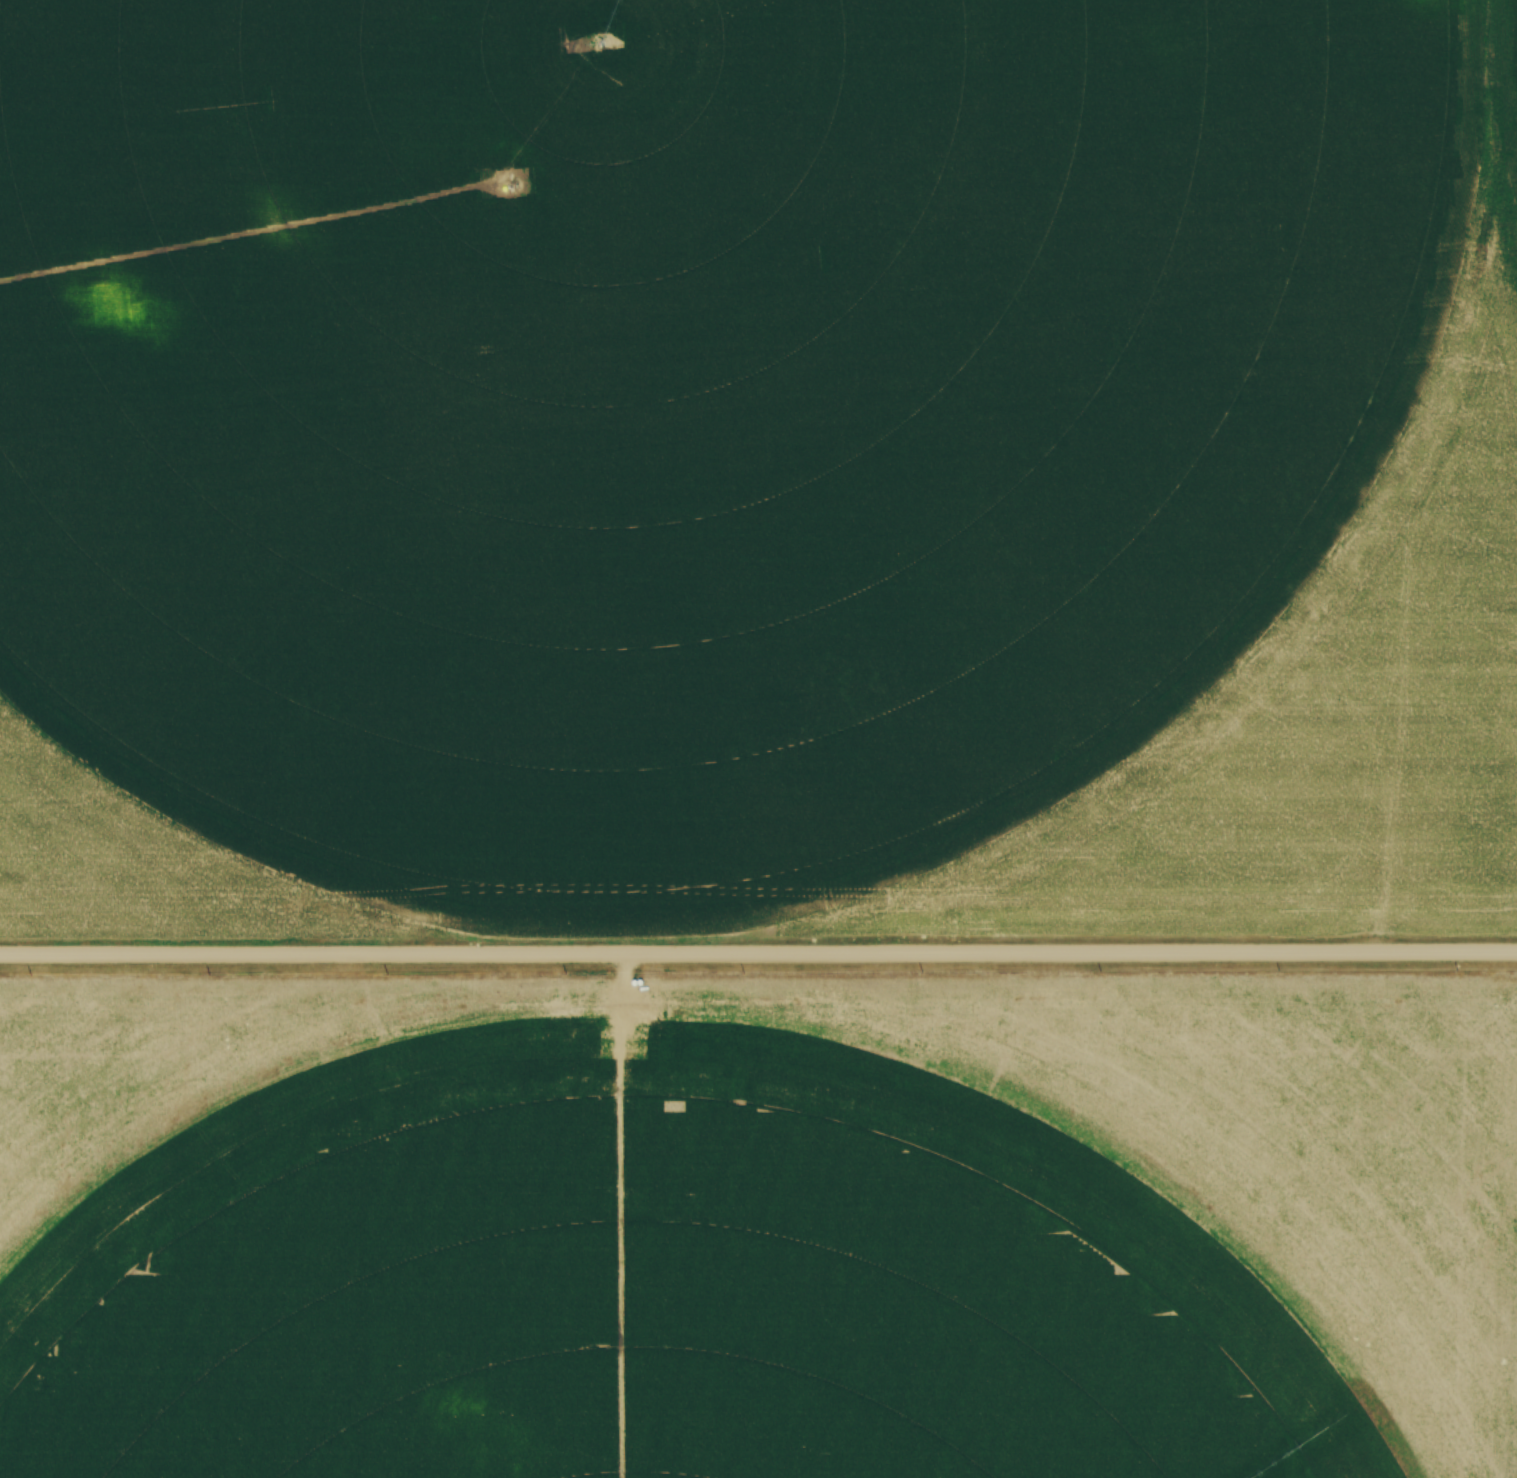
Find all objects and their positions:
crop: (758, 468)
road: (758, 952)
crop: (758, 1229)

